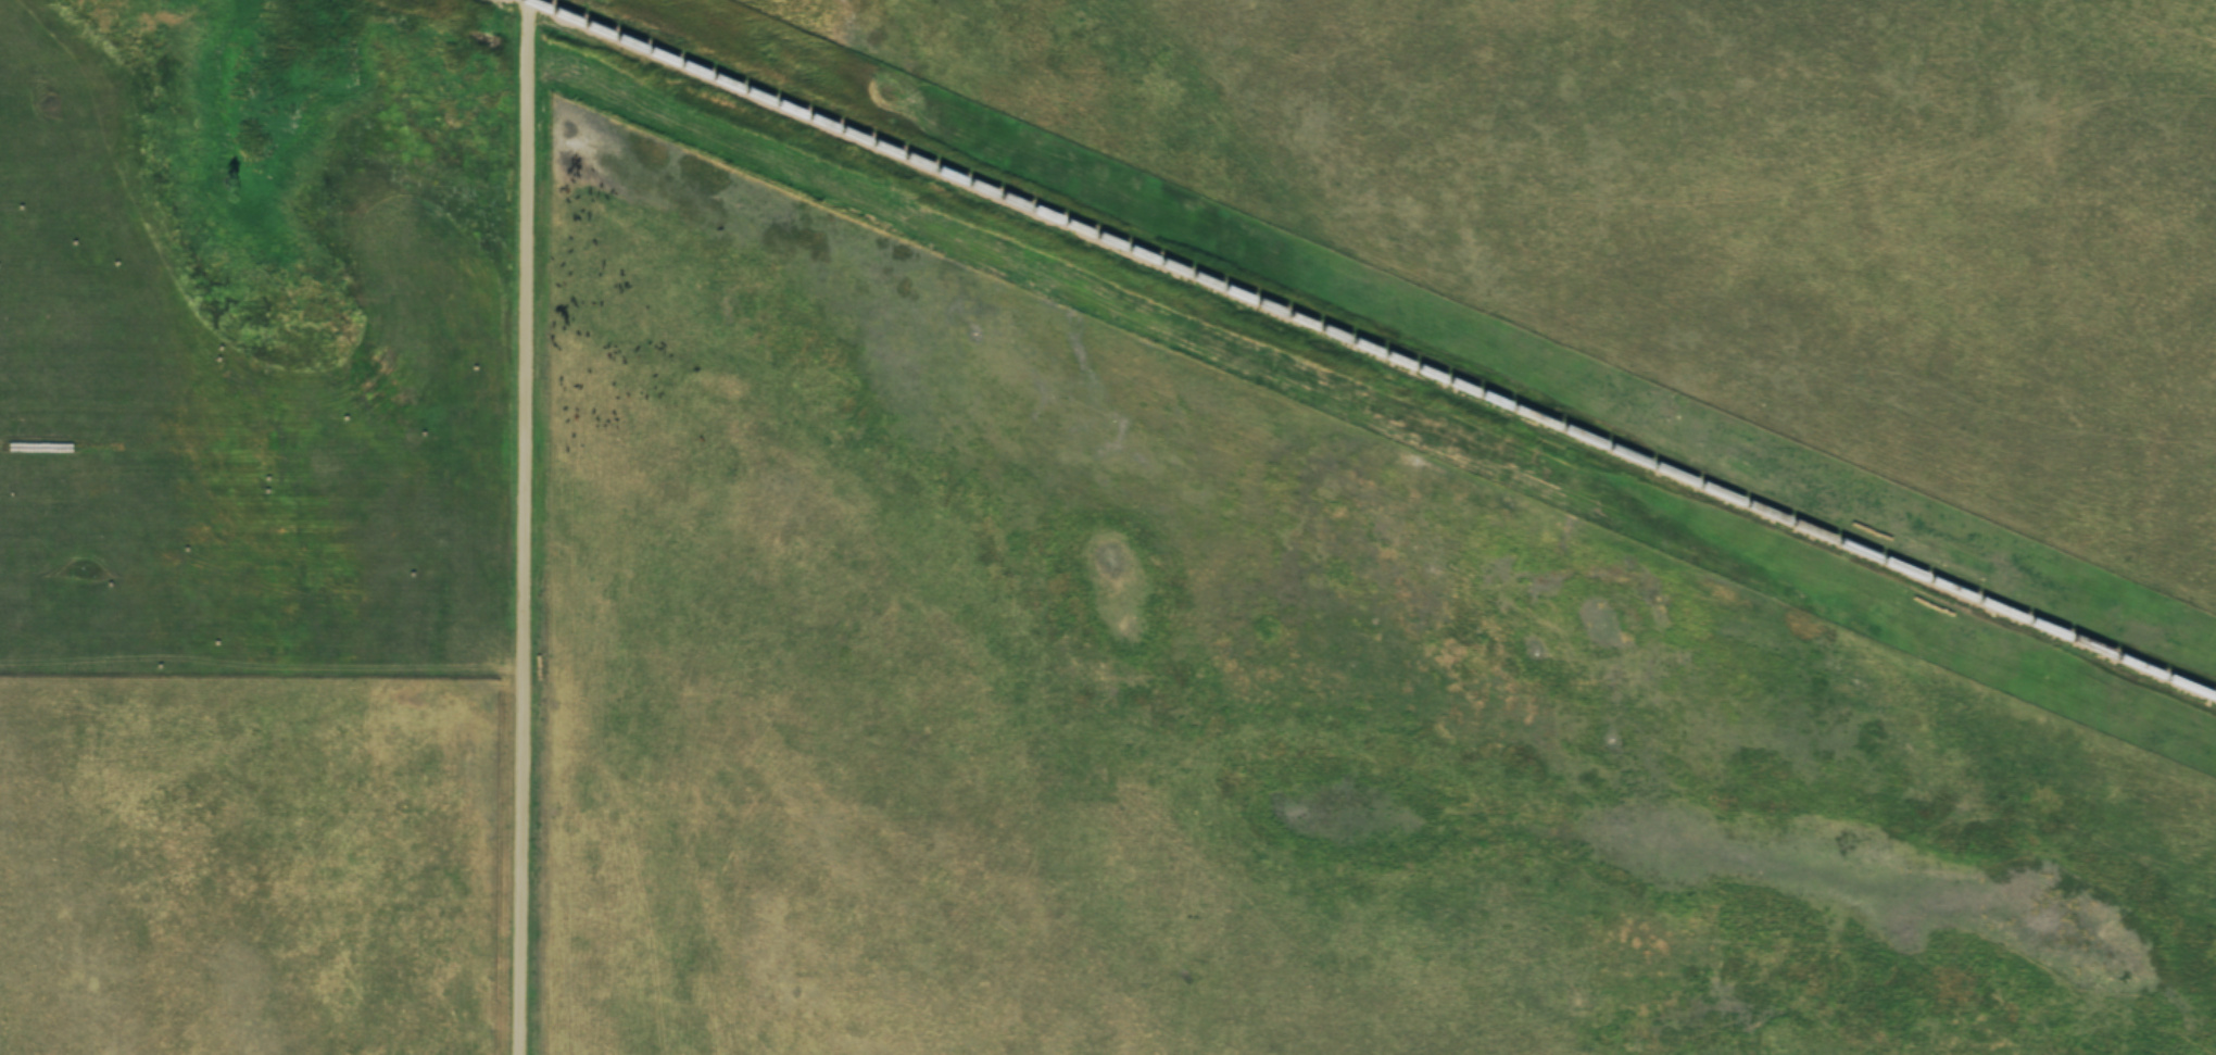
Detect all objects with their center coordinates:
railway: (1372, 348)
road: (527, 527)

